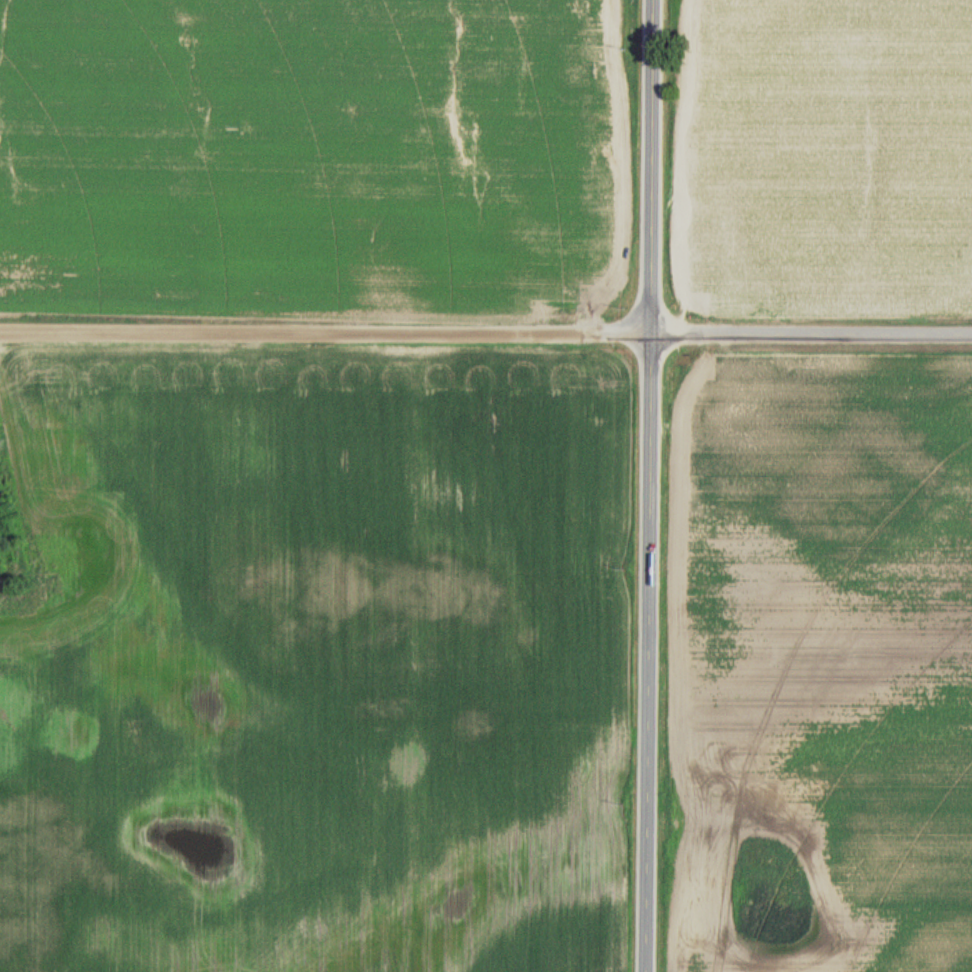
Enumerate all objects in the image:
road: (651, 167)
road: (325, 333)
road: (811, 335)
road: (648, 653)

